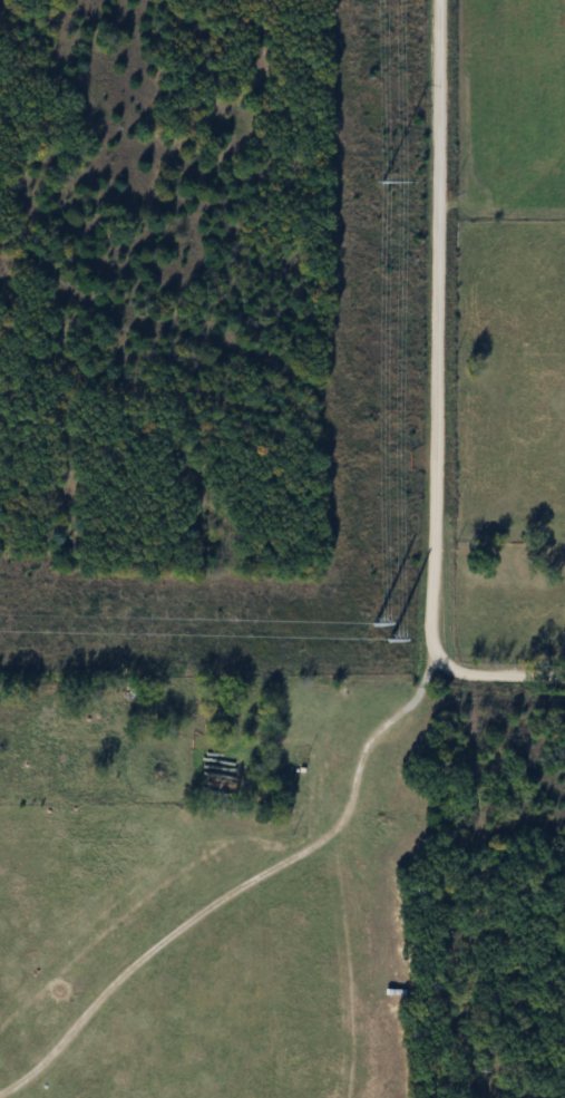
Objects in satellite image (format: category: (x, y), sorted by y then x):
power tower: (380, 183)
road: (439, 395)
power tower: (367, 632)
road: (249, 886)

